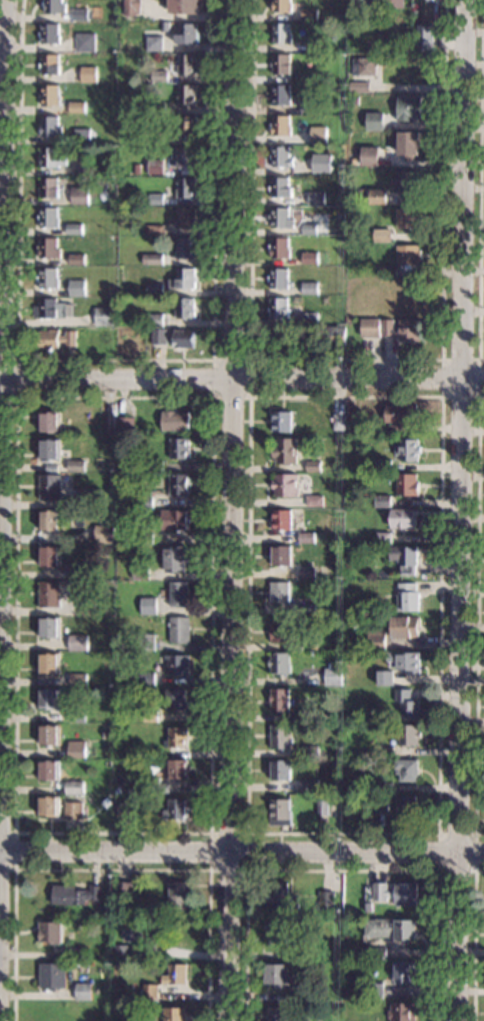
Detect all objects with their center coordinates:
building: (428, 1)
building: (361, 4)
building: (392, 4)
building: (54, 6)
building: (183, 6)
building: (282, 6)
building: (132, 7)
building: (80, 14)
building: (308, 14)
building: (341, 14)
building: (114, 26)
building: (163, 26)
building: (280, 33)
building: (49, 34)
building: (187, 34)
building: (424, 37)
building: (84, 42)
building: (316, 44)
building: (153, 45)
building: (352, 55)
building: (49, 64)
building: (186, 64)
building: (280, 64)
building: (365, 66)
building: (87, 74)
building: (159, 76)
building: (303, 77)
building: (359, 86)
building: (49, 95)
building: (185, 95)
building: (280, 95)
building: (354, 100)
building: (76, 107)
building: (156, 107)
building: (307, 107)
building: (408, 108)
building: (374, 121)
building: (49, 126)
building: (185, 126)
building: (280, 126)
building: (168, 133)
building: (81, 136)
building: (155, 137)
building: (320, 137)
road: (1, 140)
building: (408, 144)
building: (369, 156)
building: (50, 157)
building: (183, 157)
building: (280, 157)
building: (387, 162)
building: (322, 163)
building: (81, 166)
building: (154, 166)
building: (136, 168)
road: (481, 181)
building: (409, 183)
building: (48, 187)
building: (280, 187)
building: (185, 188)
building: (362, 193)
building: (79, 195)
building: (378, 196)
building: (156, 198)
building: (309, 198)
building: (138, 202)
building: (48, 217)
building: (185, 217)
building: (409, 217)
building: (280, 218)
building: (309, 228)
building: (73, 229)
building: (153, 229)
building: (382, 235)
building: (383, 246)
building: (184, 247)
building: (279, 247)
building: (48, 249)
building: (409, 255)
building: (309, 257)
building: (152, 258)
building: (76, 259)
building: (389, 272)
building: (47, 278)
building: (278, 278)
building: (182, 279)
building: (365, 281)
building: (76, 287)
building: (310, 288)
building: (154, 289)
building: (388, 298)
building: (184, 307)
building: (279, 308)
building: (51, 309)
building: (103, 316)
building: (153, 319)
building: (309, 319)
building: (370, 327)
building: (403, 329)
building: (334, 335)
building: (158, 336)
building: (55, 338)
building: (278, 339)
building: (183, 340)
road: (480, 359)
road: (114, 360)
road: (251, 360)
road: (347, 360)
road: (17, 378)
road: (241, 378)
road: (441, 397)
road: (213, 398)
building: (350, 402)
building: (402, 416)
building: (175, 421)
building: (282, 421)
building: (338, 421)
building: (50, 422)
building: (108, 424)
building: (125, 425)
building: (338, 442)
building: (179, 448)
building: (50, 449)
building: (408, 450)
building: (285, 451)
building: (75, 465)
building: (382, 465)
building: (155, 466)
building: (313, 466)
building: (179, 483)
building: (407, 484)
building: (285, 485)
building: (49, 487)
building: (144, 499)
building: (75, 500)
building: (314, 500)
building: (133, 501)
building: (383, 501)
road: (229, 510)
road: (462, 510)
building: (403, 518)
building: (48, 520)
building: (174, 520)
building: (281, 520)
building: (103, 534)
building: (144, 537)
building: (306, 537)
building: (384, 537)
building: (119, 539)
building: (361, 553)
building: (49, 556)
building: (280, 556)
building: (175, 558)
building: (405, 558)
building: (76, 571)
building: (140, 571)
building: (306, 573)
building: (337, 574)
building: (278, 592)
building: (48, 594)
building: (178, 594)
building: (407, 597)
building: (105, 604)
building: (148, 606)
building: (87, 607)
building: (307, 608)
road: (477, 617)
building: (404, 626)
building: (49, 627)
building: (179, 630)
building: (279, 630)
building: (375, 639)
building: (145, 642)
building: (77, 643)
building: (312, 646)
building: (298, 648)
building: (405, 661)
building: (278, 662)
building: (48, 664)
building: (176, 664)
building: (332, 674)
building: (144, 678)
building: (385, 678)
building: (76, 680)
building: (48, 699)
building: (175, 699)
building: (278, 700)
building: (407, 704)
building: (75, 714)
building: (148, 716)
building: (309, 716)
building: (106, 734)
building: (47, 735)
building: (408, 735)
building: (279, 736)
building: (177, 737)
building: (75, 749)
building: (309, 751)
building: (385, 751)
building: (106, 764)
building: (177, 769)
building: (407, 769)
building: (47, 770)
building: (278, 770)
building: (154, 785)
building: (308, 785)
building: (73, 787)
building: (385, 787)
building: (116, 789)
building: (128, 790)
building: (159, 796)
building: (381, 803)
building: (47, 806)
building: (321, 806)
building: (406, 806)
building: (174, 809)
building: (71, 810)
building: (123, 810)
building: (279, 812)
road: (439, 834)
road: (14, 851)
road: (242, 856)
road: (111, 870)
road: (245, 870)
road: (342, 871)
building: (122, 889)
building: (396, 893)
building: (72, 895)
building: (177, 895)
building: (280, 897)
building: (325, 900)
building: (368, 906)
building: (89, 914)
building: (319, 915)
building: (391, 929)
building: (130, 930)
building: (49, 932)
building: (277, 932)
road: (475, 942)
building: (120, 952)
building: (379, 952)
building: (75, 953)
building: (367, 953)
building: (300, 954)
building: (404, 972)
building: (276, 974)
building: (51, 975)
building: (174, 975)
building: (332, 986)
building: (94, 990)
building: (373, 990)
building: (82, 991)
building: (148, 991)
building: (299, 995)
building: (402, 1011)
building: (44, 1012)
building: (119, 1013)
building: (276, 1013)
building: (171, 1014)
building: (333, 1015)

